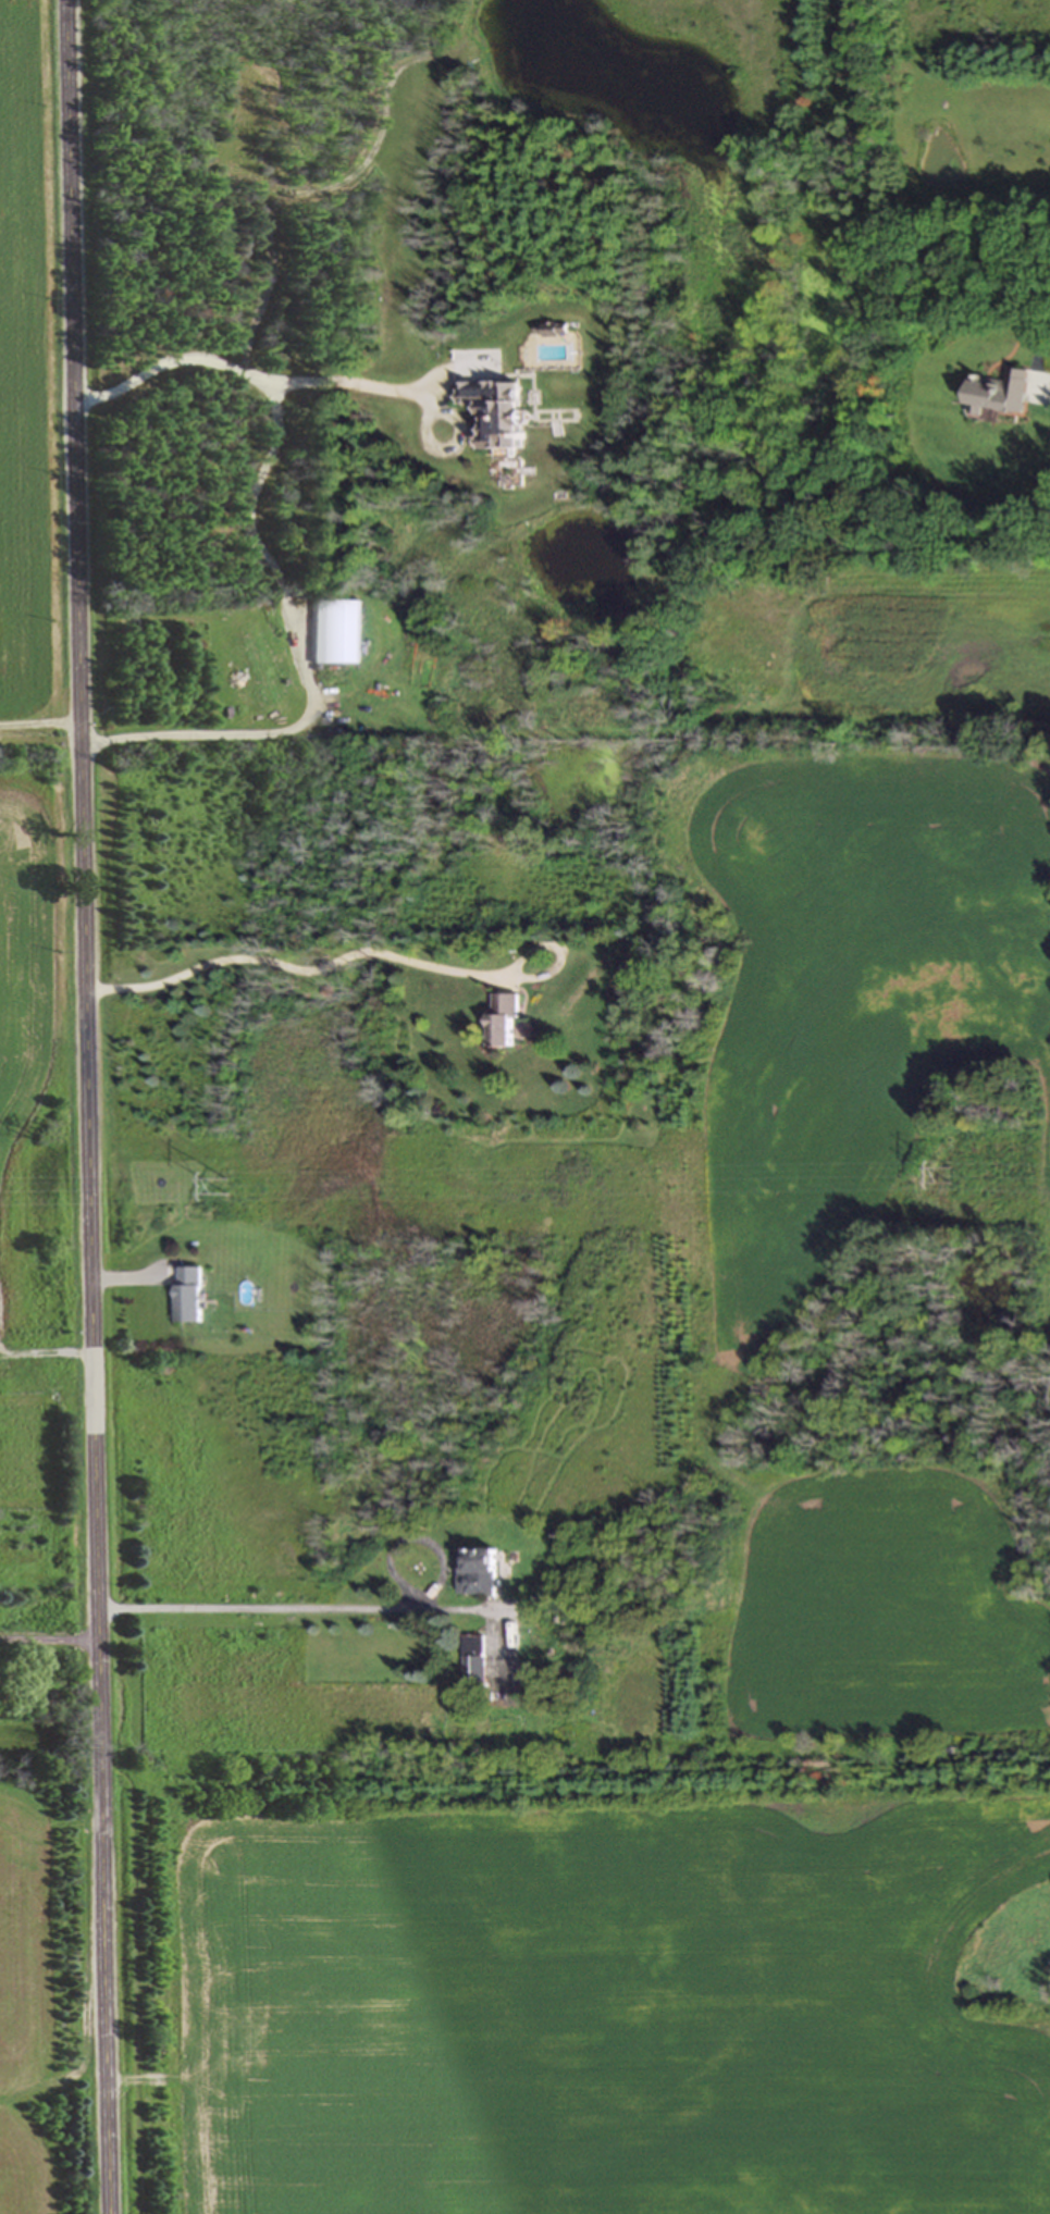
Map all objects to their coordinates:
road: (1046, 292)
road: (246, 373)
building: (999, 395)
building: (496, 412)
building: (335, 633)
road: (309, 665)
road: (36, 726)
road: (310, 964)
building: (502, 1021)
road: (83, 1106)
power tower: (950, 1176)
power tower: (224, 1189)
building: (187, 1297)
building: (478, 1573)
road: (275, 1610)
road: (48, 1637)
building: (474, 1663)

